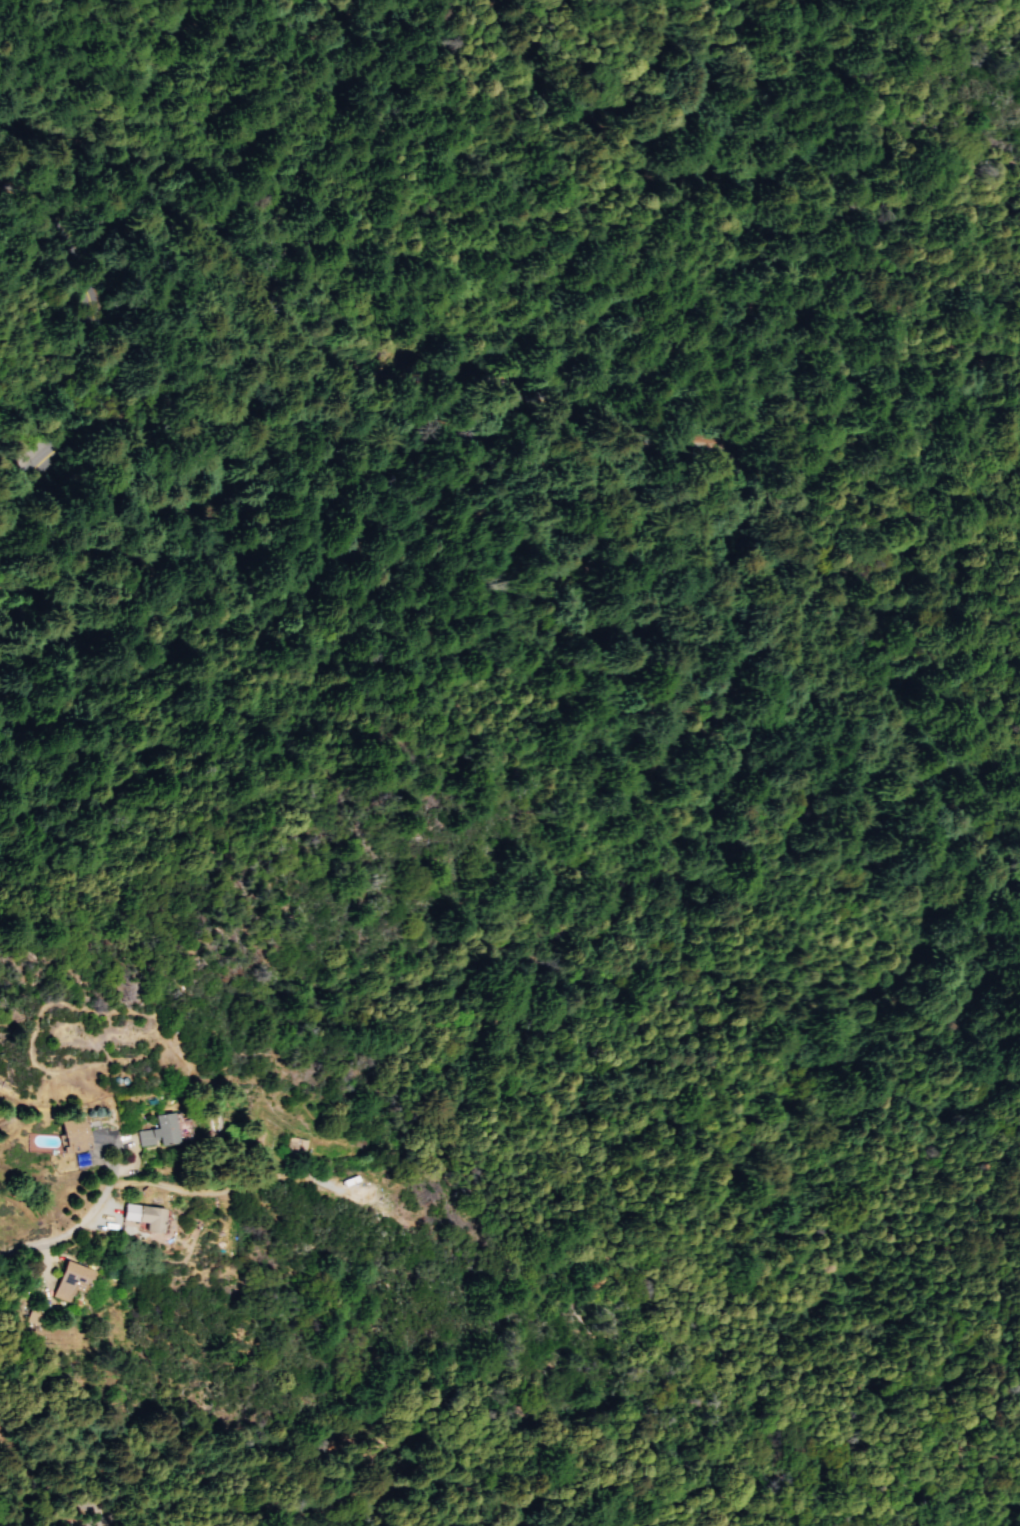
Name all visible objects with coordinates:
road: (4, 155)
road: (113, 356)
road: (595, 417)
building: (157, 1131)
building: (73, 1133)
road: (99, 1140)
road: (125, 1140)
road: (123, 1145)
building: (294, 1146)
building: (349, 1178)
road: (235, 1189)
road: (103, 1213)
building: (144, 1216)
road: (65, 1233)
road: (42, 1265)
building: (70, 1280)
road: (56, 1484)
road: (11, 1521)

